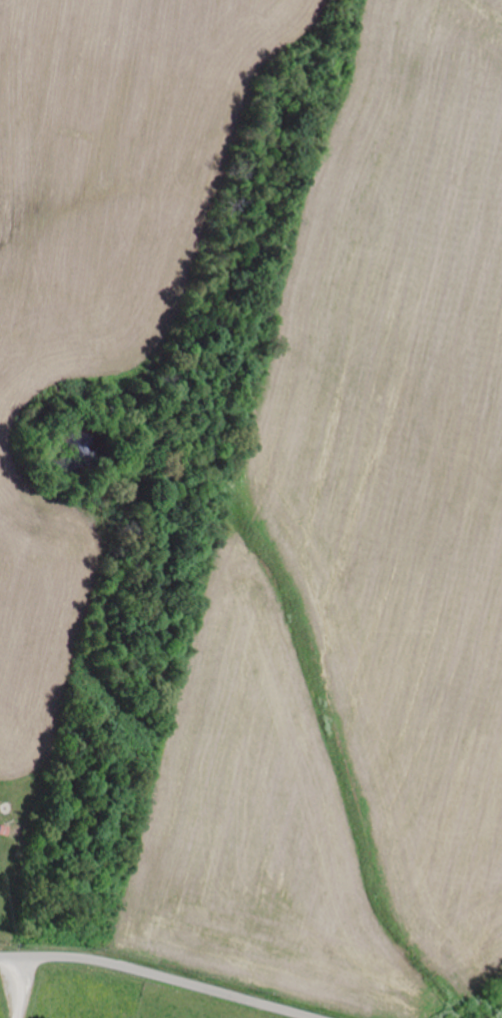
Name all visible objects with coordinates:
road: (158, 975)
road: (23, 988)

